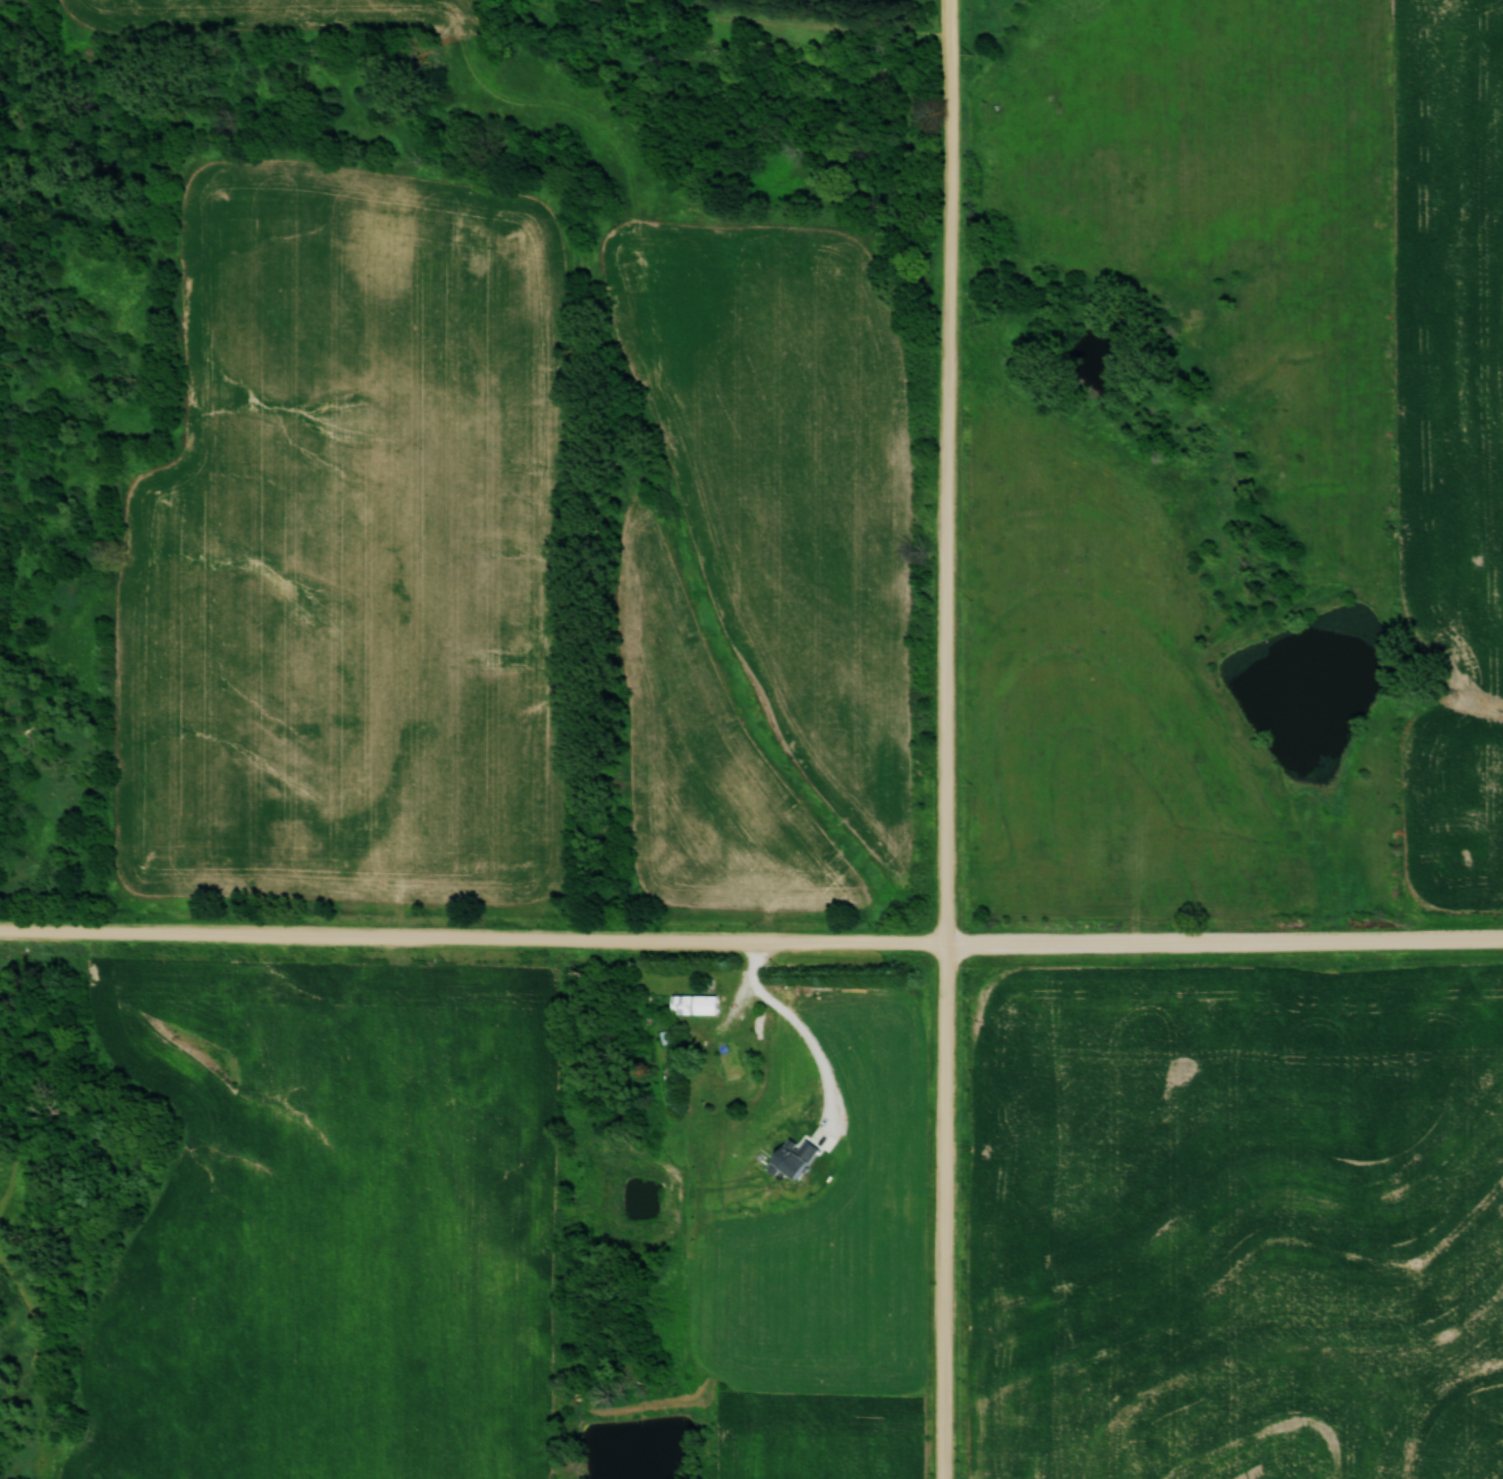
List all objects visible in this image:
road: (797, 29)
road: (940, 739)
road: (469, 942)
road: (1221, 943)
building: (695, 1004)
building: (728, 1060)

